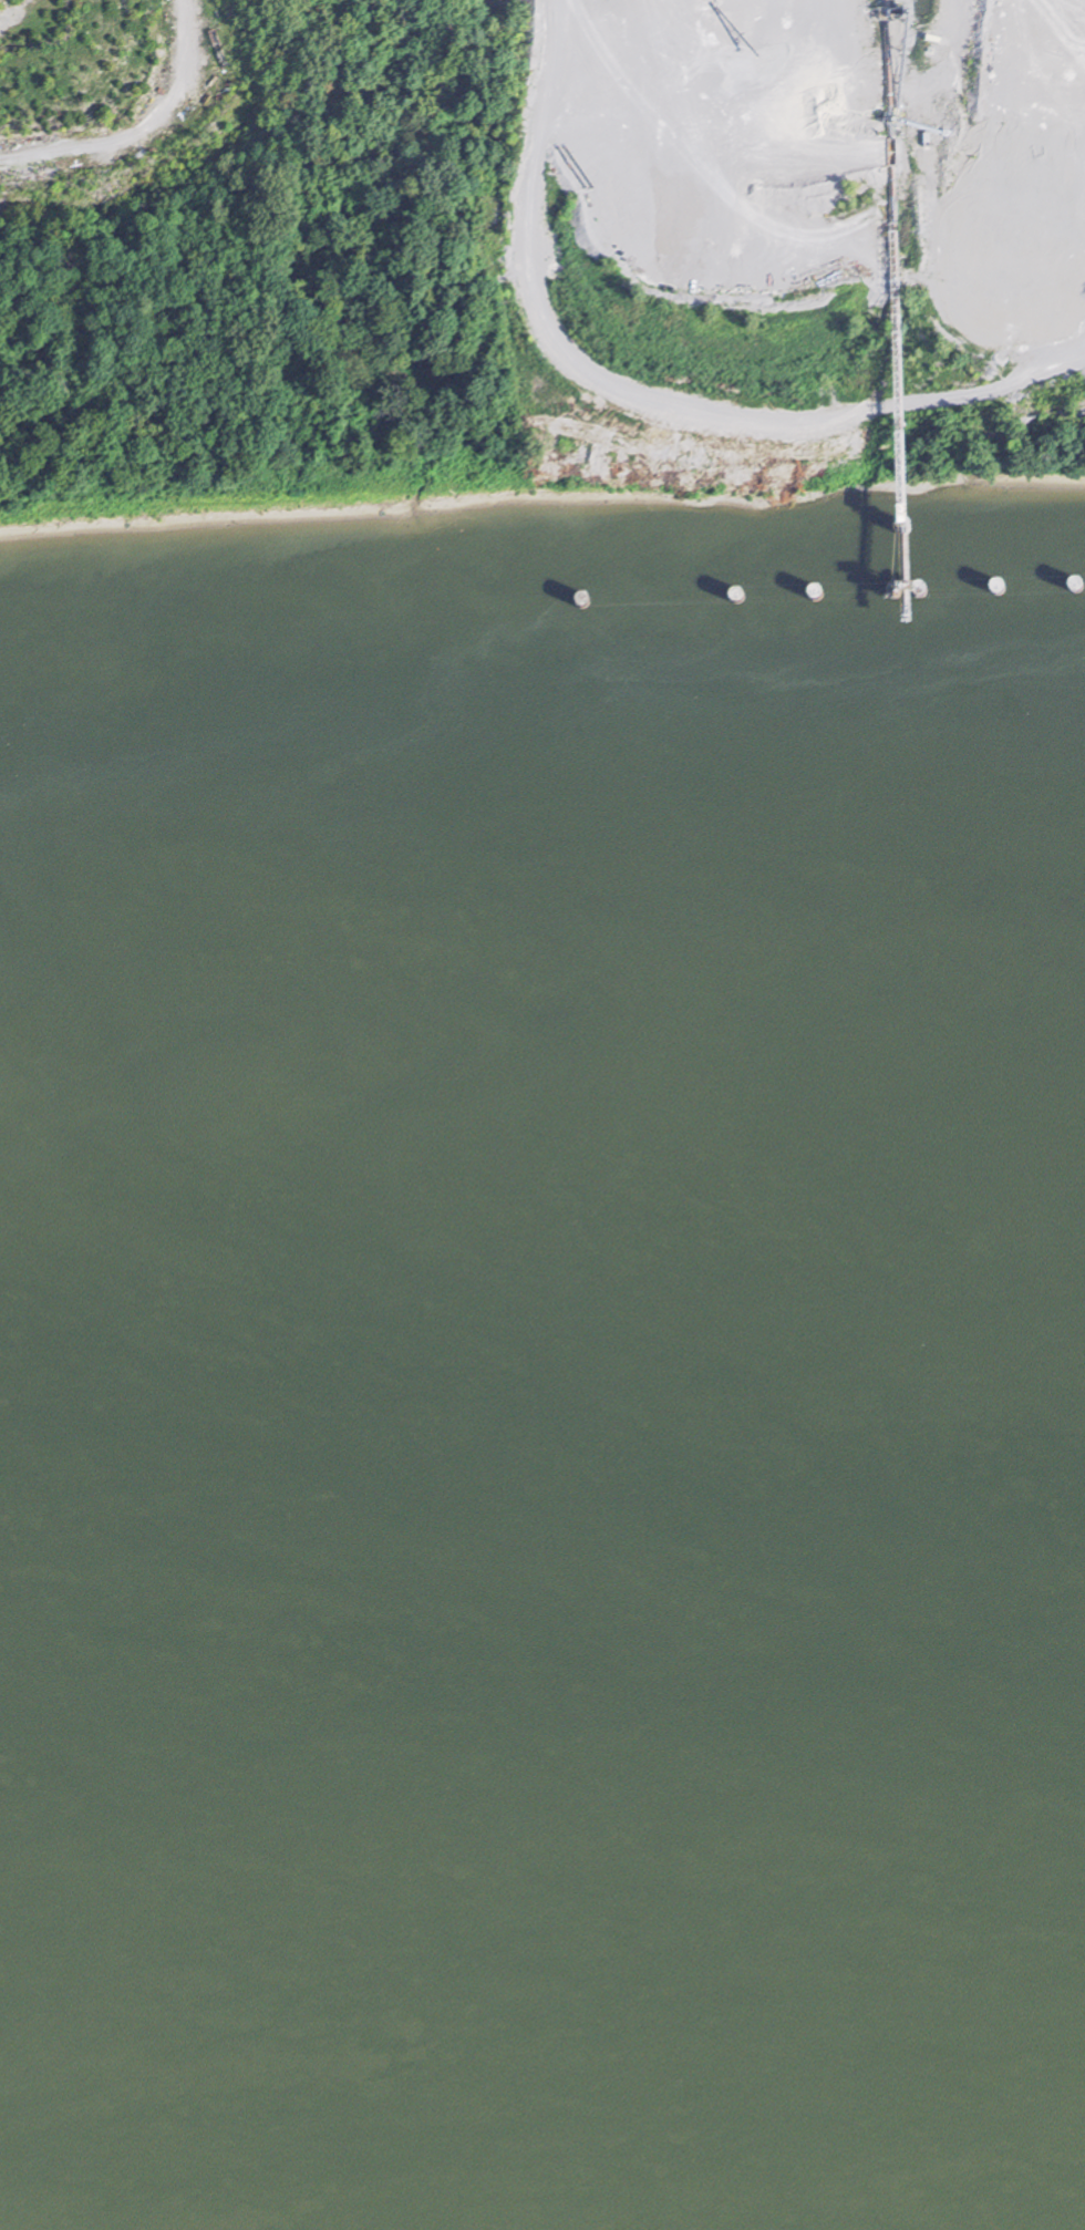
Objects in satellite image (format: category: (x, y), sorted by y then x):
road: (595, 24)
road: (1066, 42)
road: (652, 79)
quarry: (106, 91)
road: (138, 124)
quarry: (793, 208)
building: (865, 221)
road: (652, 381)
building: (700, 520)
building: (248, 579)
river: (541, 1653)

